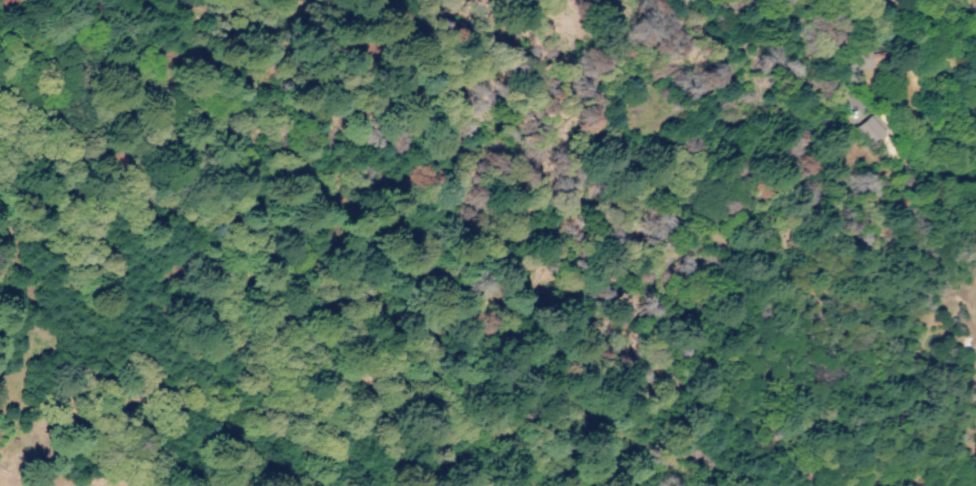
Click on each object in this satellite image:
building: (7, 4)
road: (343, 7)
road: (232, 15)
building: (866, 59)
building: (871, 129)

